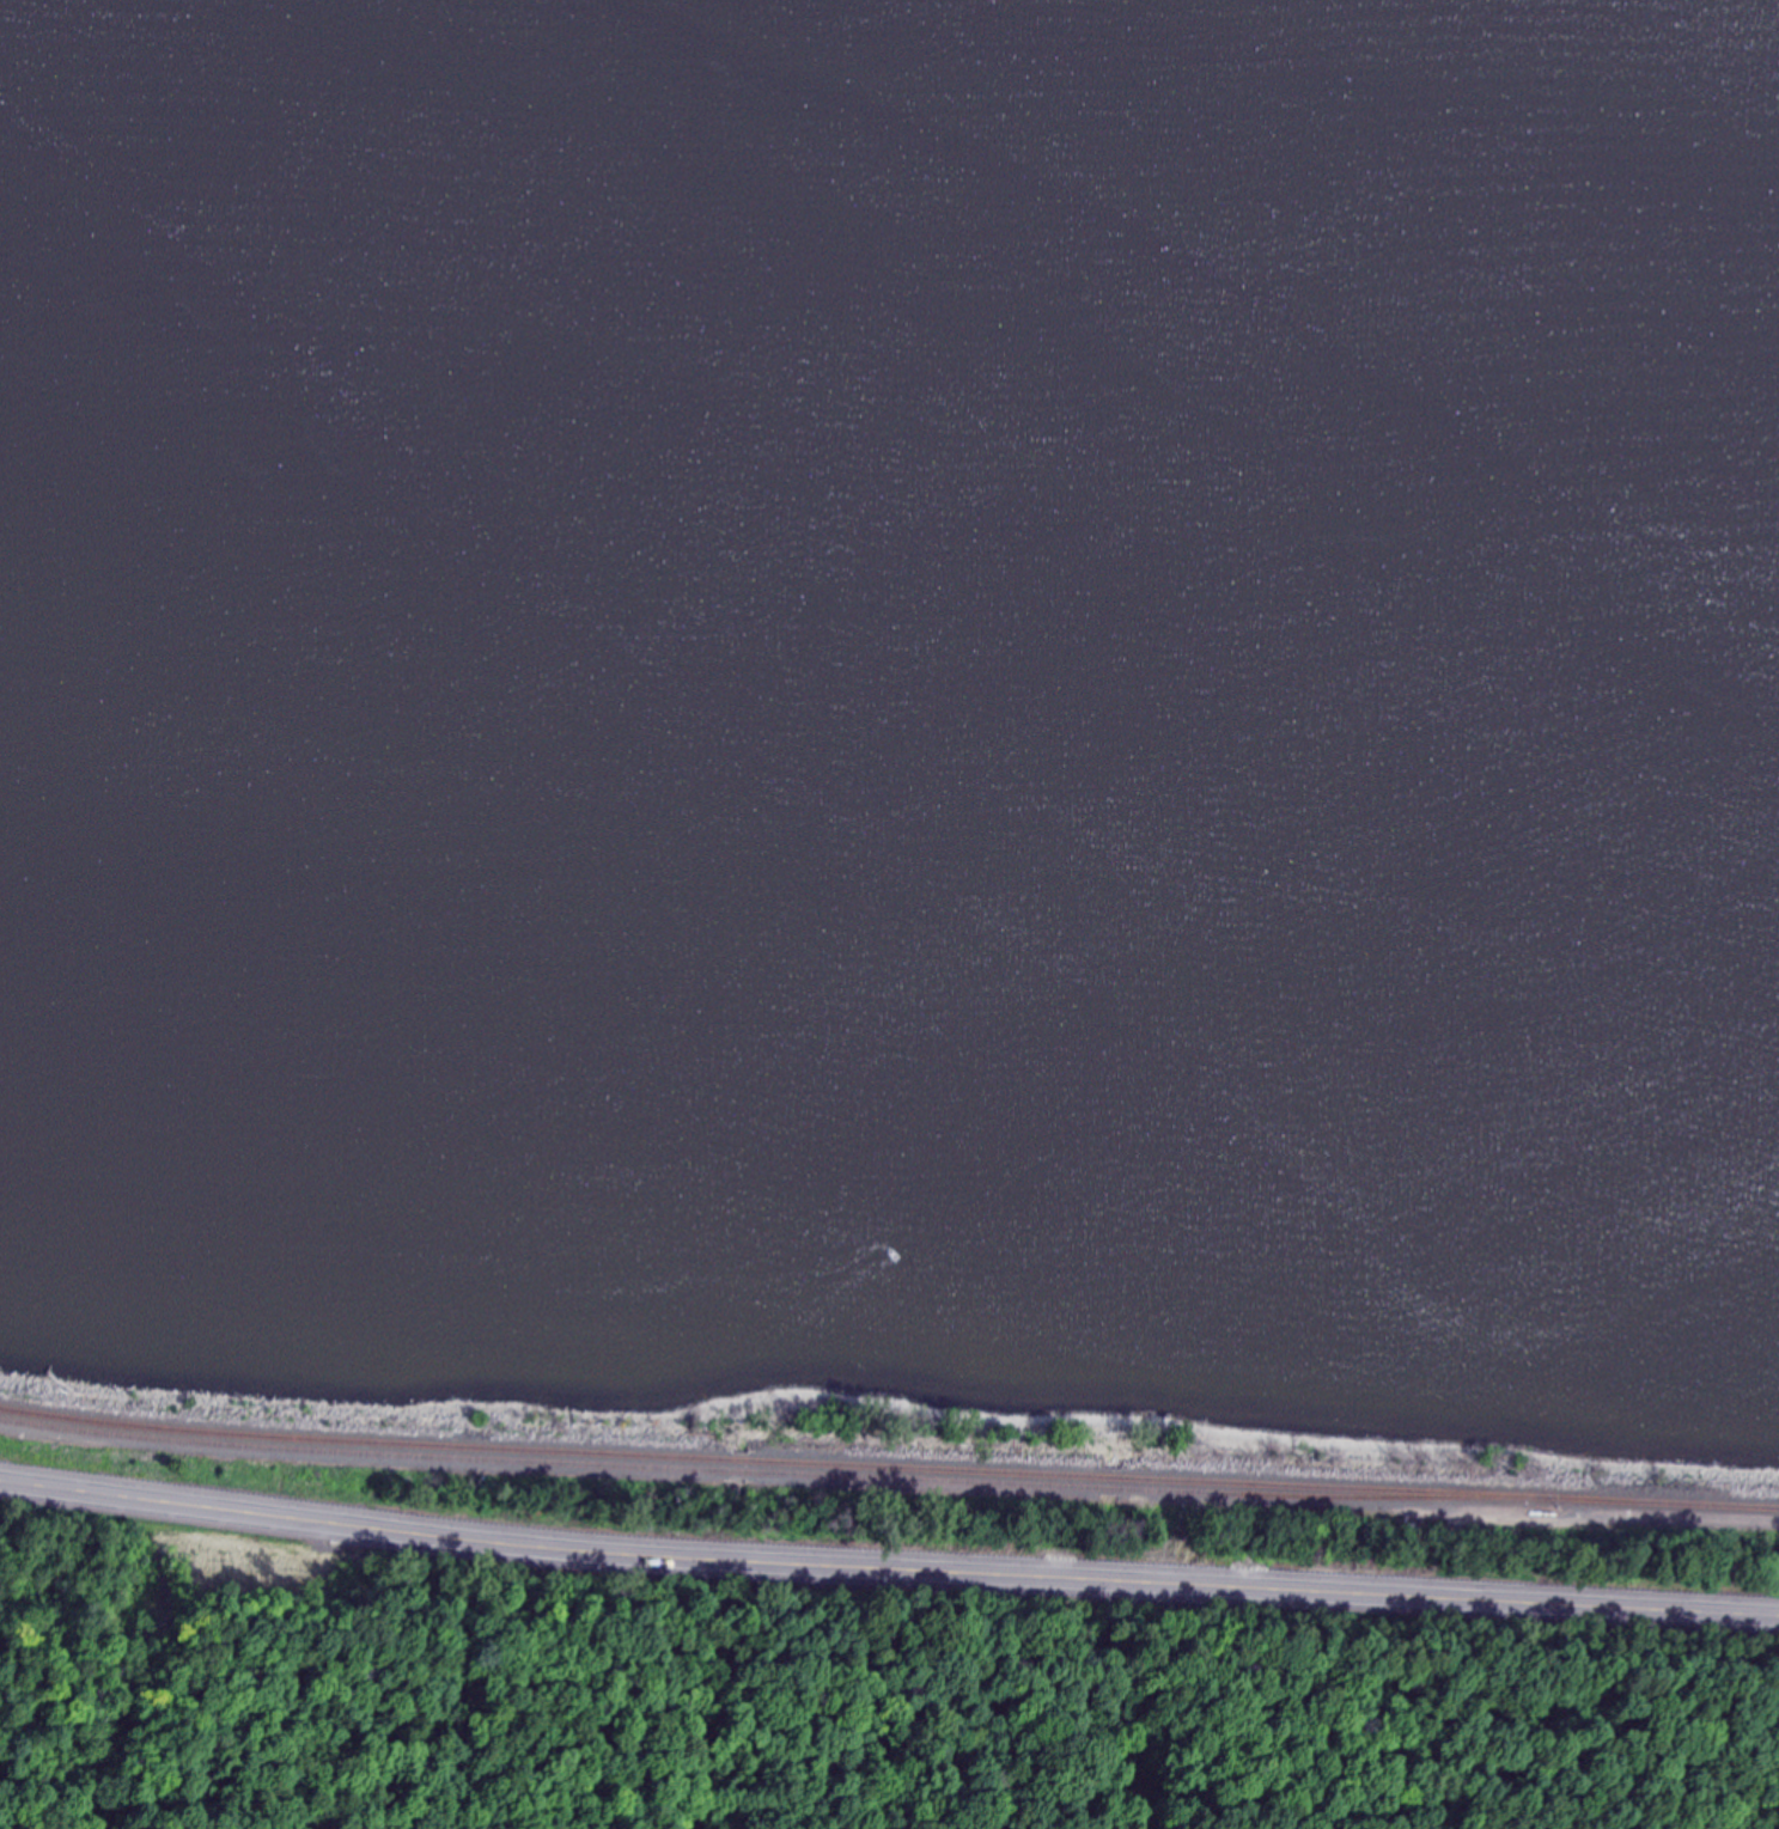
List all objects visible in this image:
railway: (775, 1459)
railway: (775, 1470)
railway: (1665, 1502)
road: (887, 1567)

